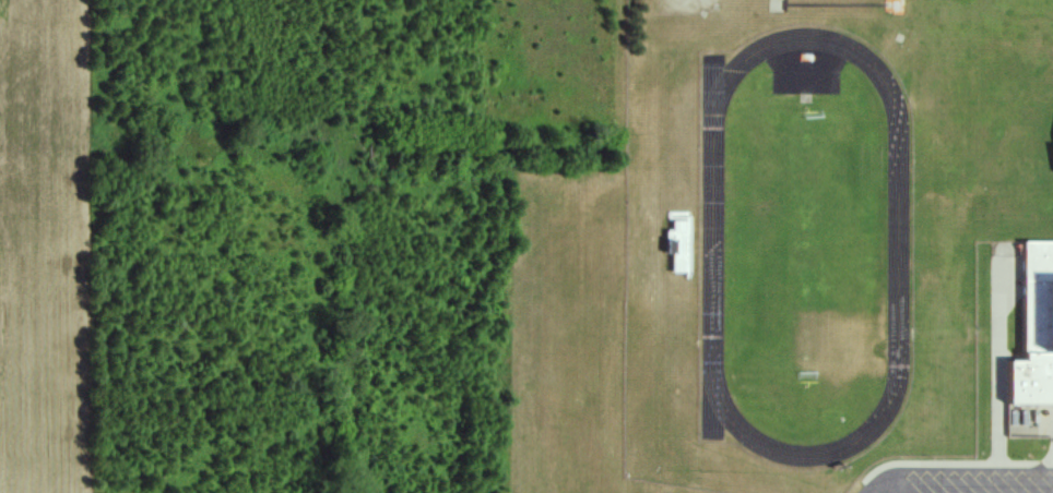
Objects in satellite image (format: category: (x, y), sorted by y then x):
building: (682, 236)
building: (1036, 344)

